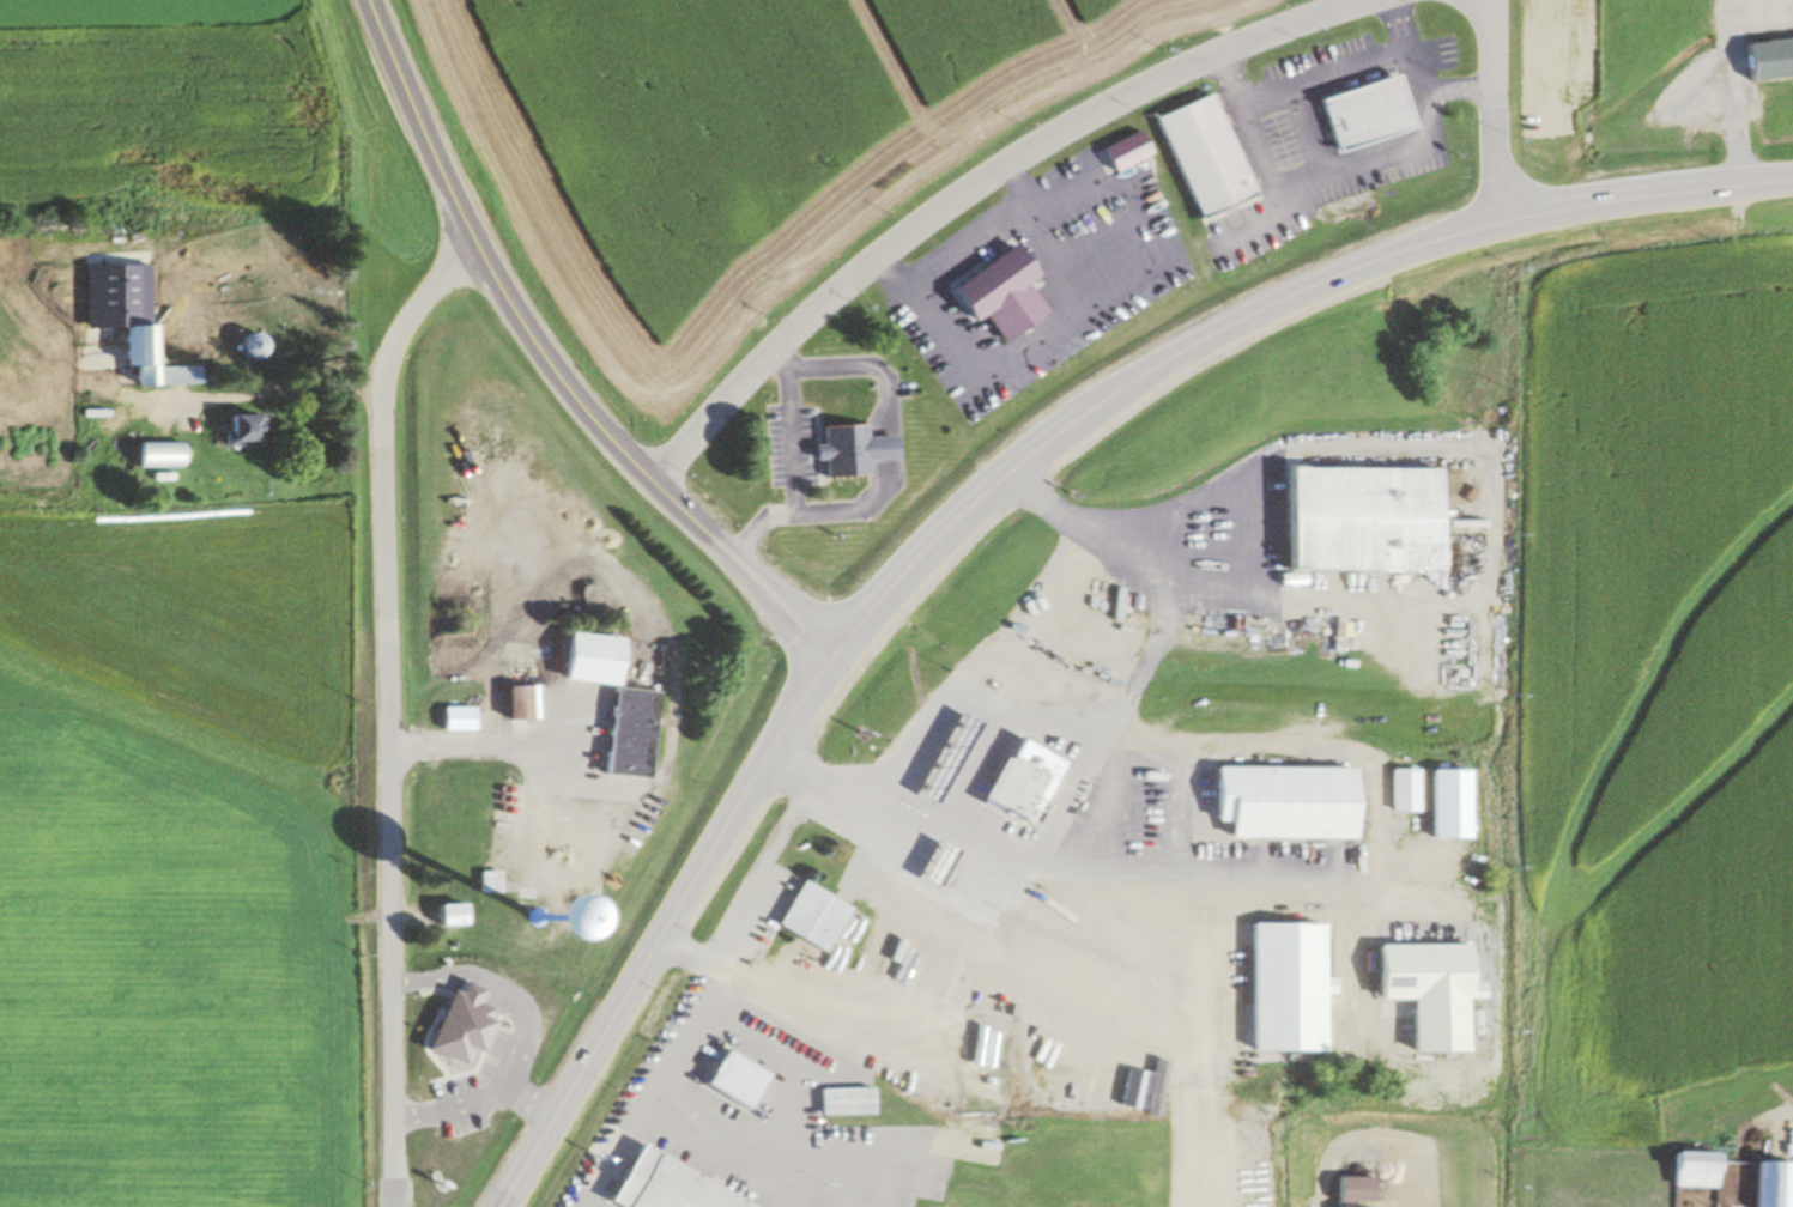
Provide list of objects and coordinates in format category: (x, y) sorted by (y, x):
road: (1335, 7)
building: (1764, 57)
road: (1725, 77)
road: (1318, 79)
road: (1454, 87)
road: (1495, 111)
building: (1359, 114)
road: (1306, 133)
building: (1122, 152)
building: (1201, 156)
road: (1338, 170)
road: (986, 186)
road: (1246, 226)
building: (994, 295)
building: (244, 346)
building: (147, 360)
road: (552, 366)
road: (1138, 377)
road: (278, 384)
building: (232, 431)
building: (847, 450)
building: (156, 455)
road: (1479, 465)
building: (1355, 516)
road: (1138, 672)
building: (510, 702)
building: (610, 703)
road: (383, 714)
building: (455, 718)
road: (478, 742)
building: (940, 757)
building: (1008, 786)
building: (1398, 789)
road: (1060, 800)
building: (1277, 801)
building: (928, 862)
road: (1216, 868)
building: (466, 902)
building: (806, 915)
water tower: (540, 918)
building: (1412, 971)
building: (1279, 984)
building: (442, 1026)
road: (937, 1030)
road: (1173, 1039)
road: (592, 1049)
building: (840, 1100)
building: (894, 1140)
building: (1055, 1141)
building: (1688, 1169)
building: (1770, 1183)
building: (659, 1185)
building: (1345, 1189)

